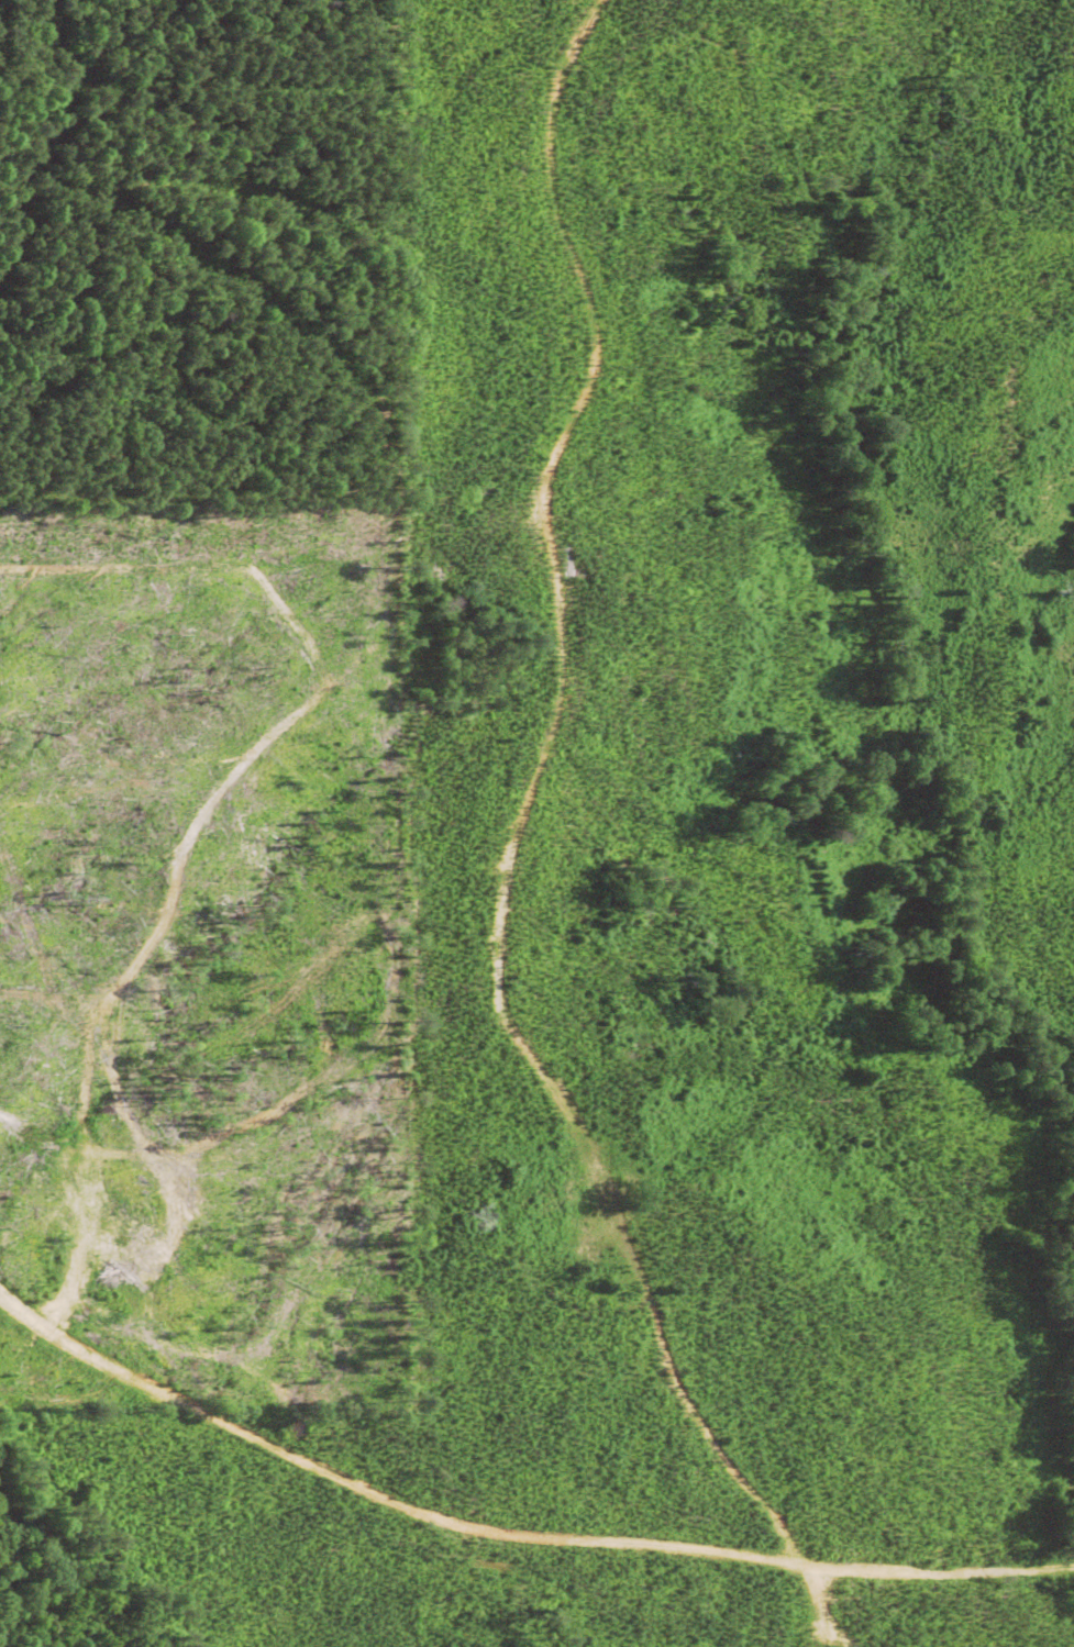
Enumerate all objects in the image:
road: (512, 1557)

